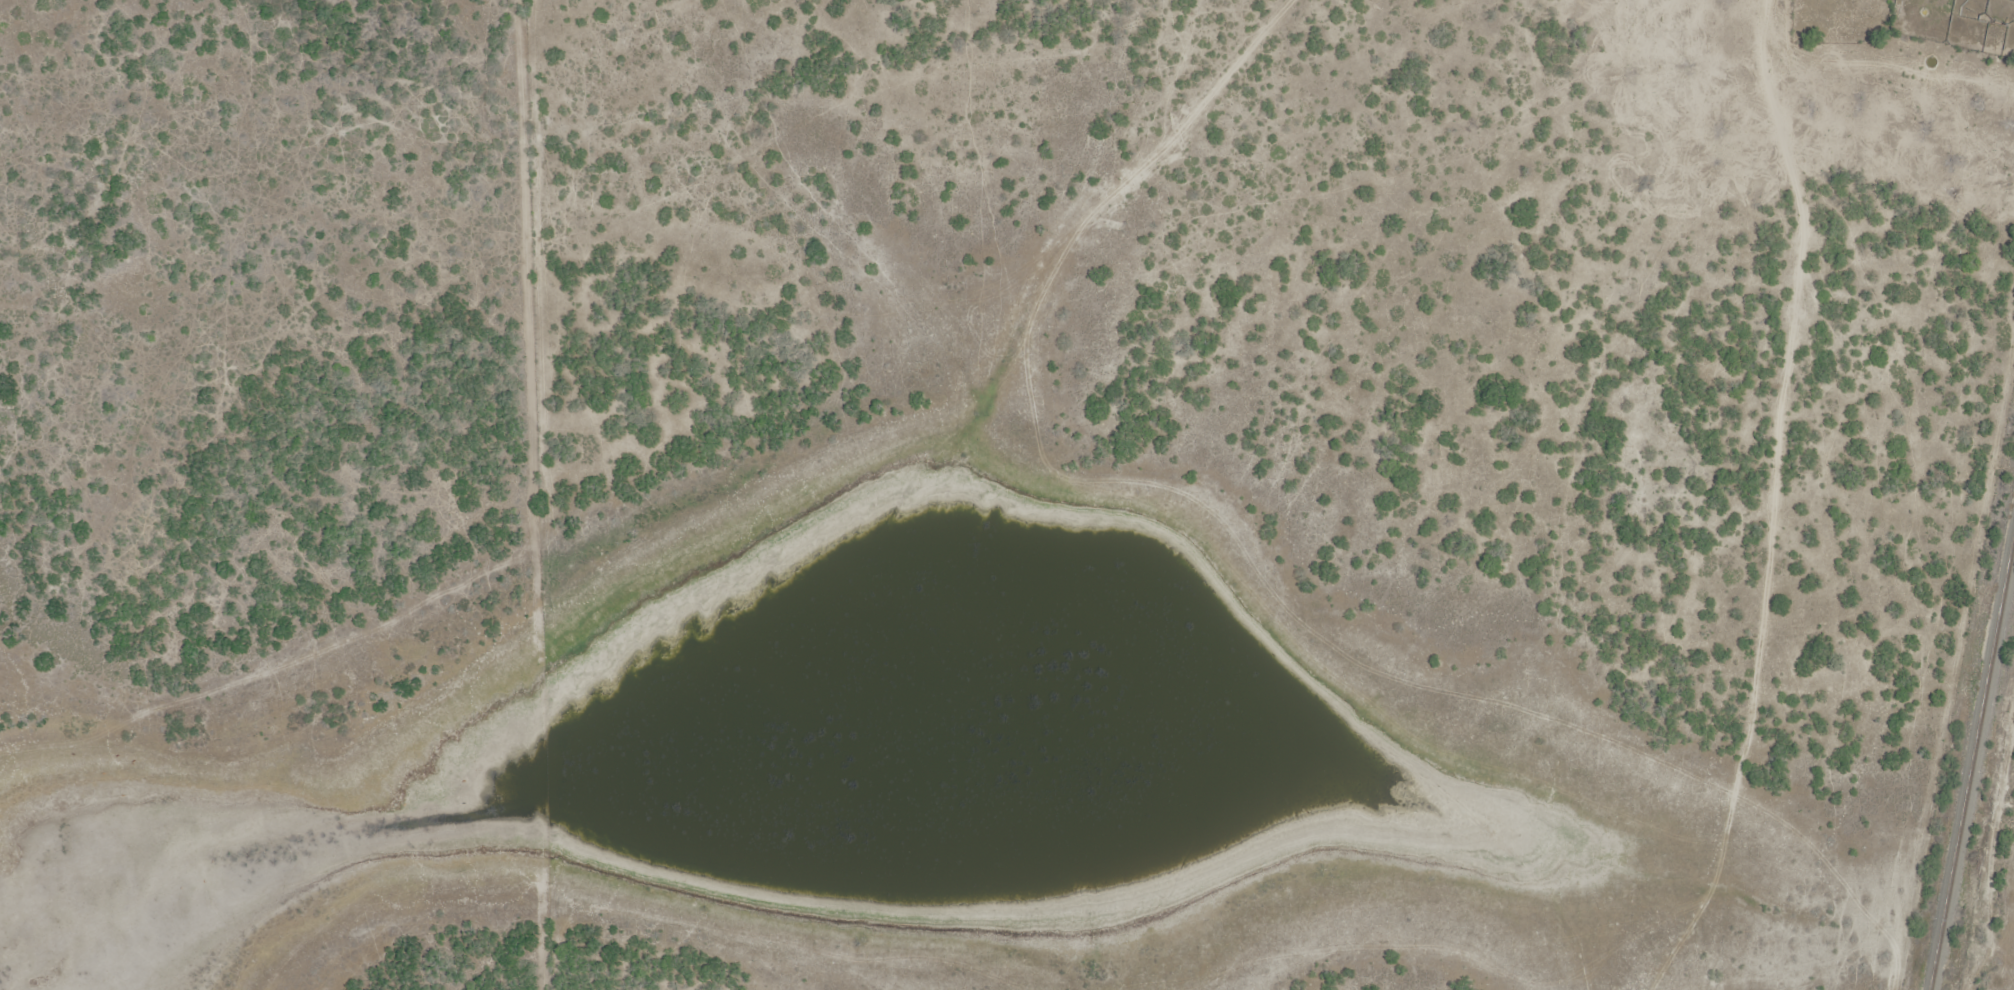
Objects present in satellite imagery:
road: (1778, 492)
railway: (1971, 763)

